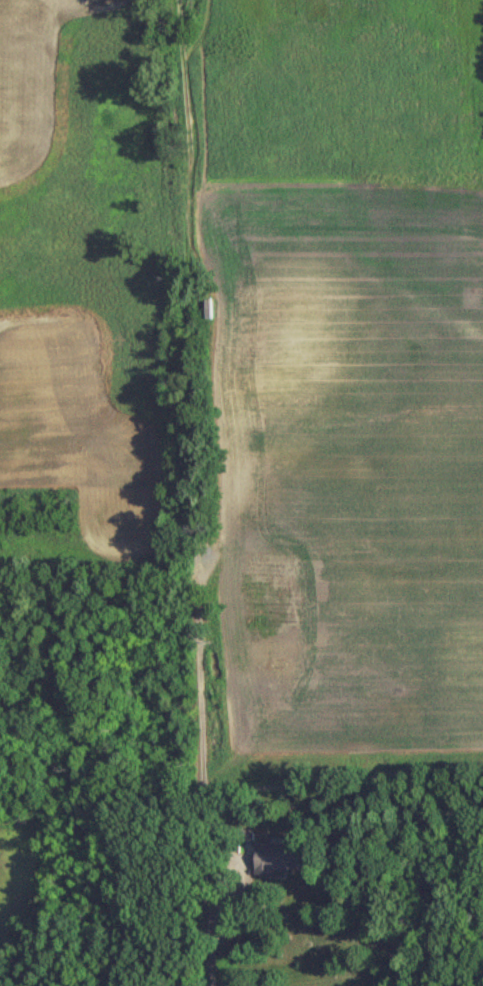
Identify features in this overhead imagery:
building: (284, 850)
road: (202, 893)

